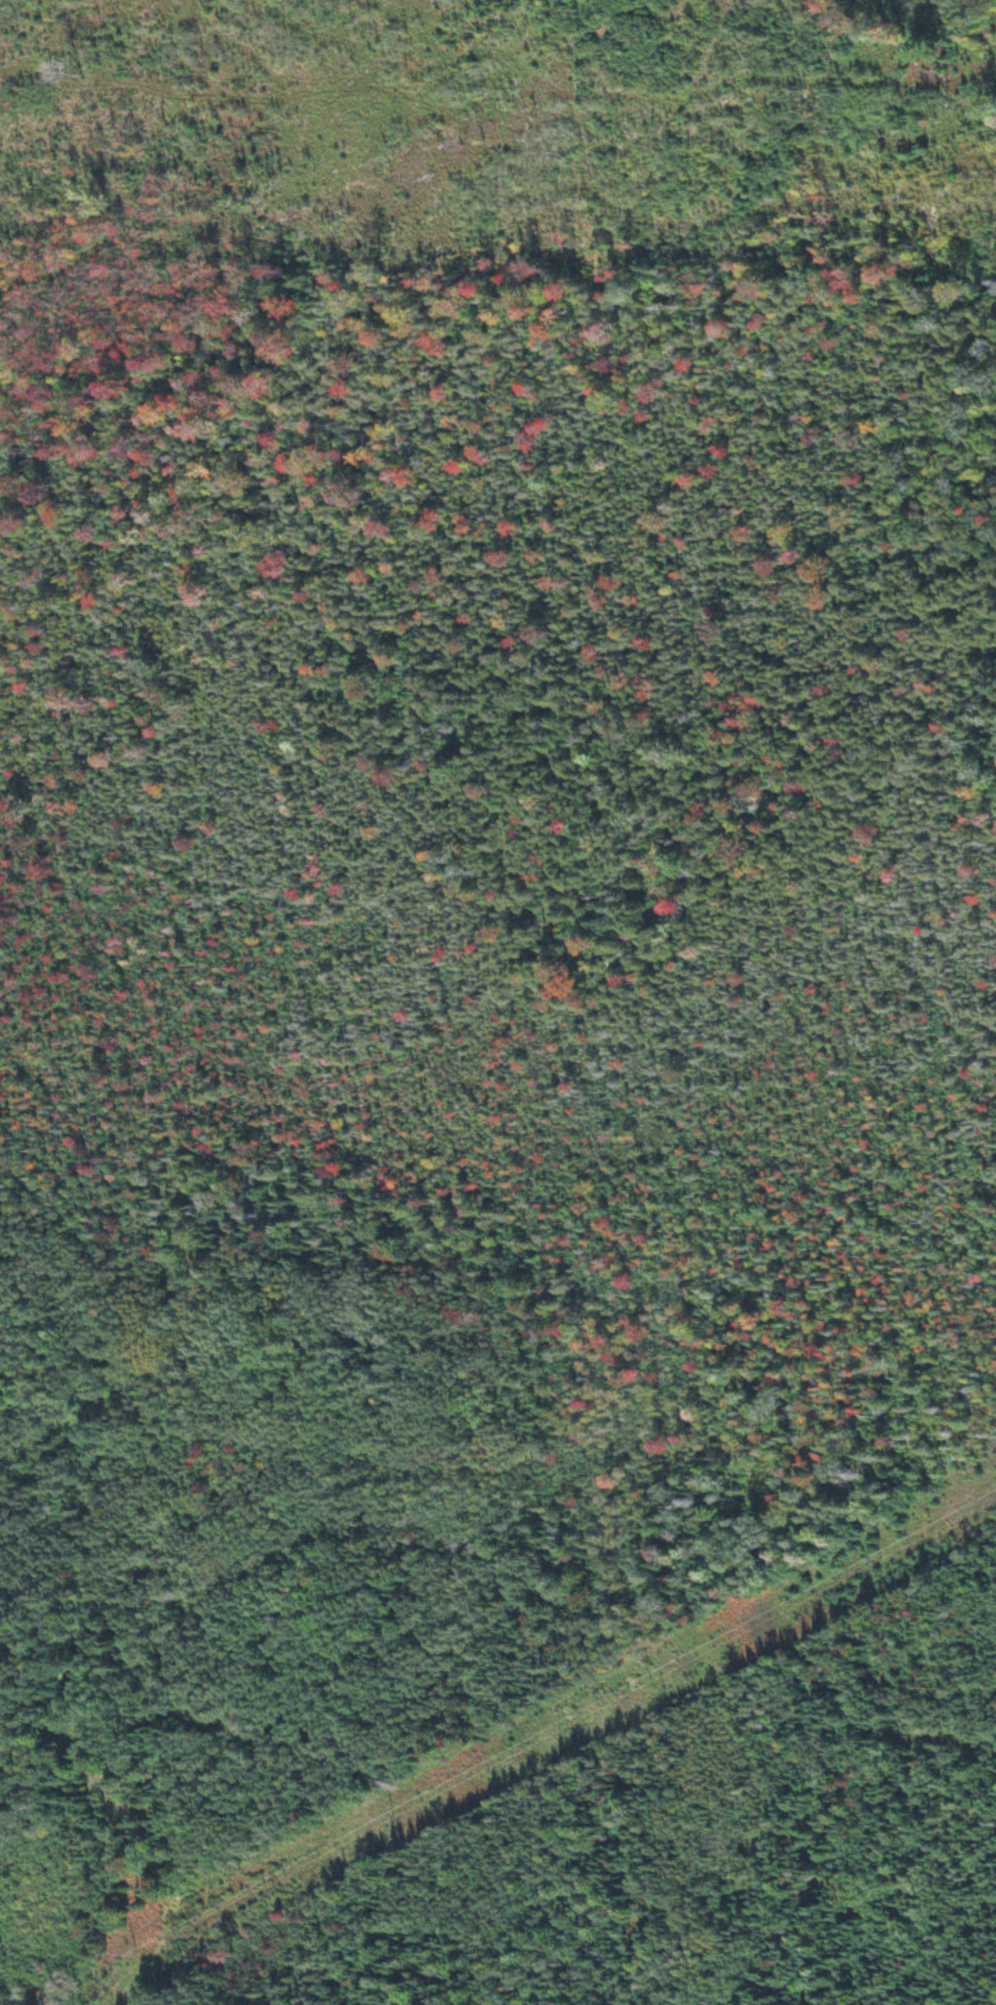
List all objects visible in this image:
road: (426, 1772)

